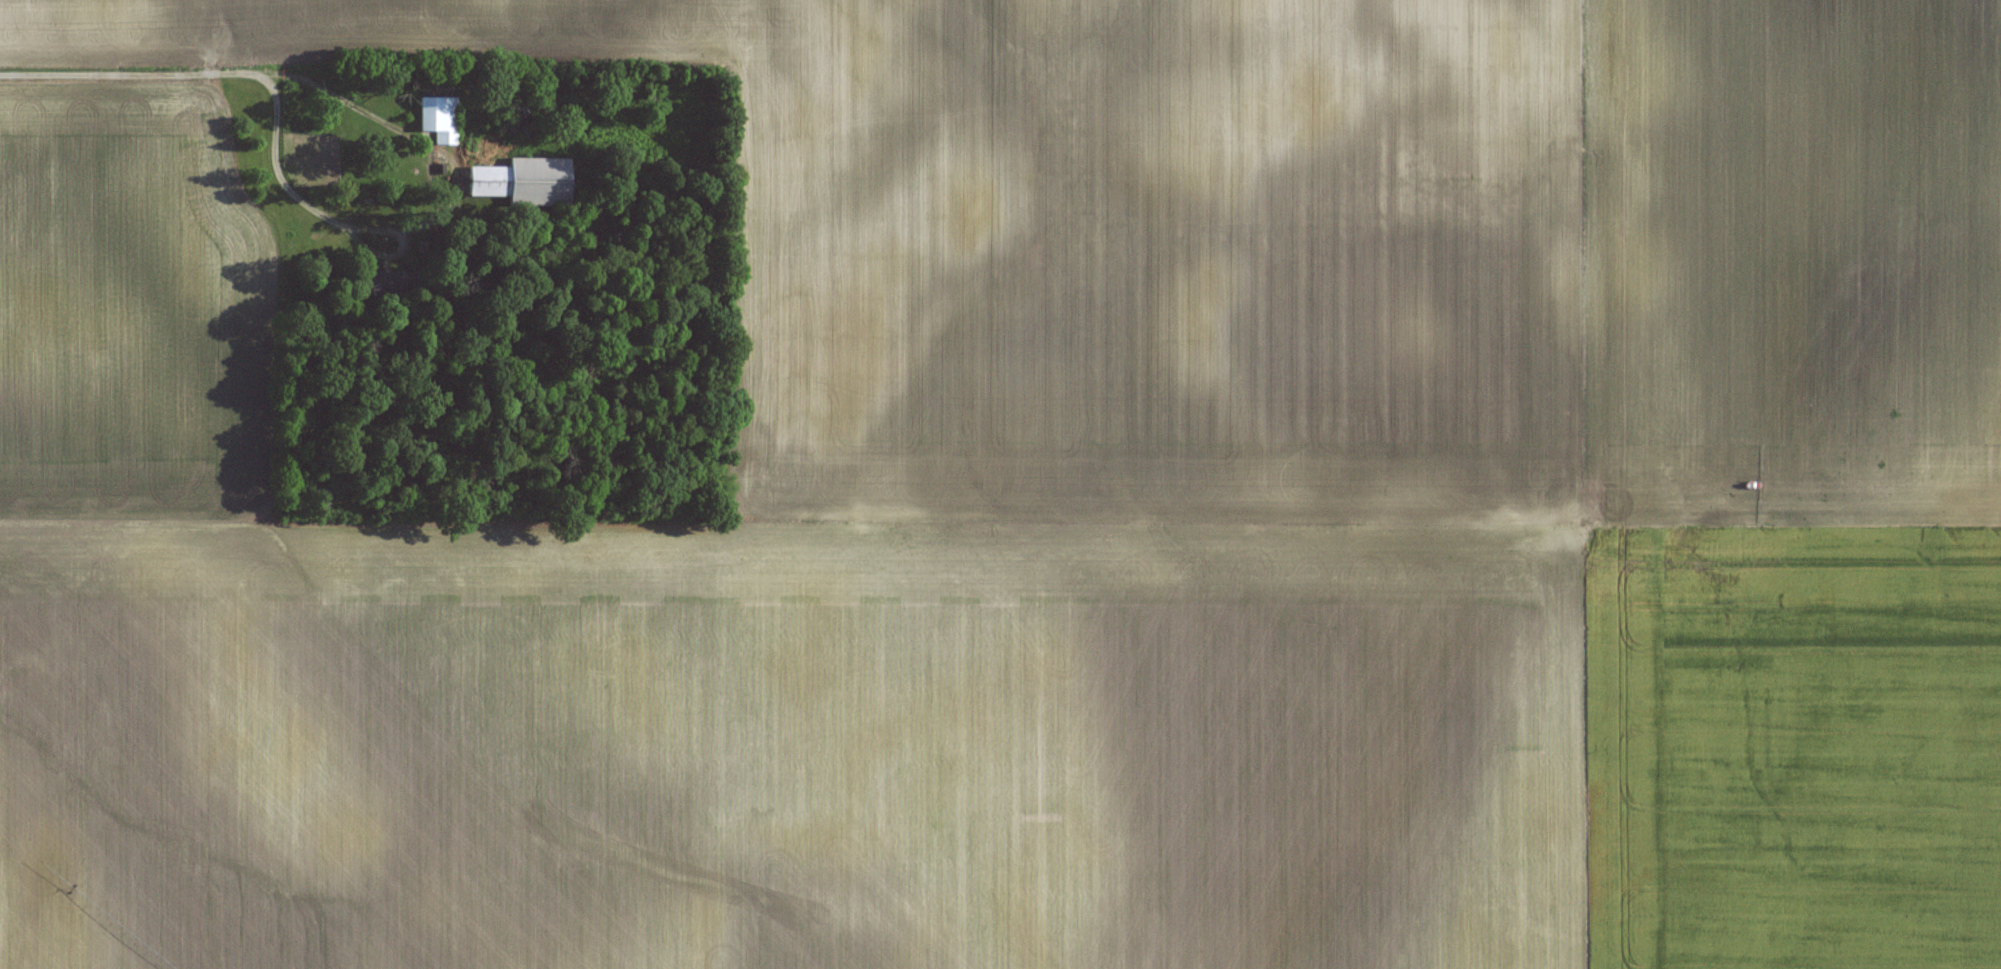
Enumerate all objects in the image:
road: (127, 72)
building: (373, 81)
building: (440, 118)
building: (526, 182)
road: (431, 215)
building: (388, 283)
crop: (1071, 513)

